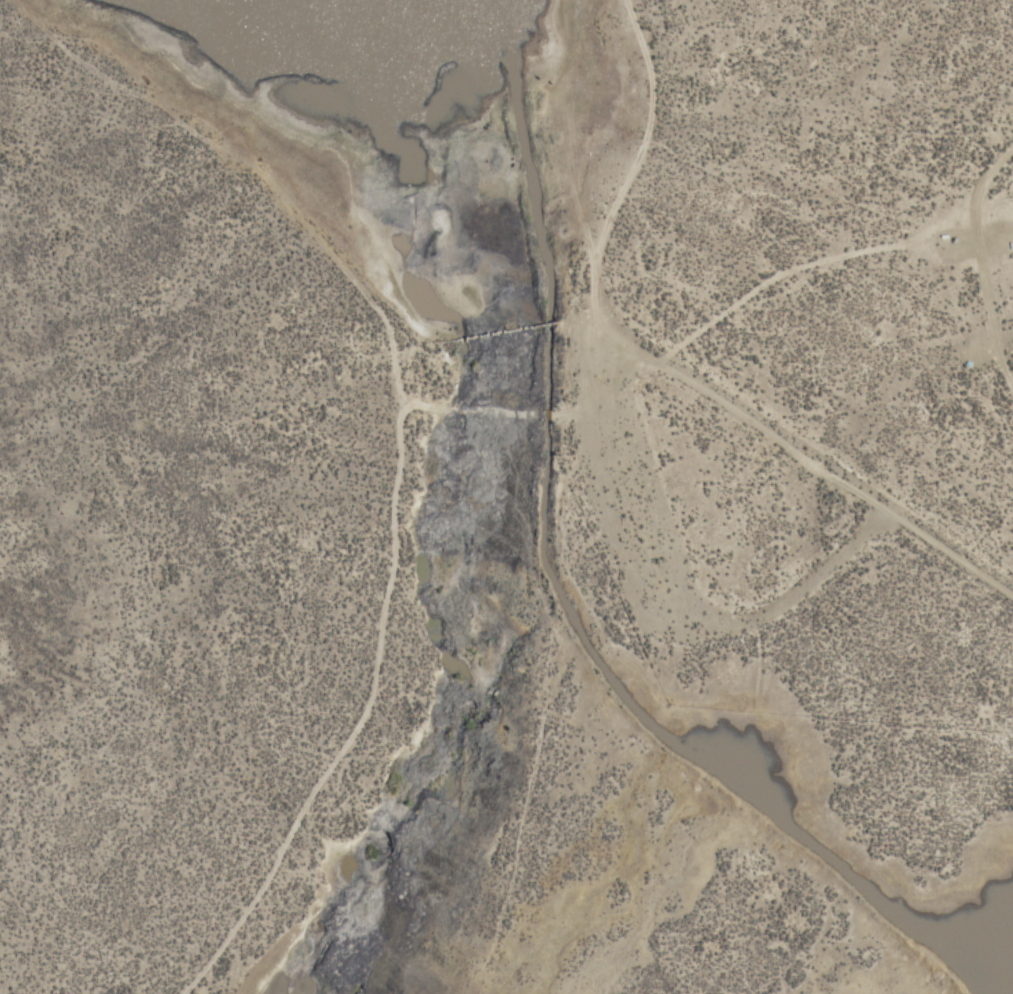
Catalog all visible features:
road: (562, 175)
road: (262, 178)
road: (976, 259)
road: (799, 261)
dam: (498, 330)
road: (394, 412)
road: (820, 471)
road: (174, 991)

